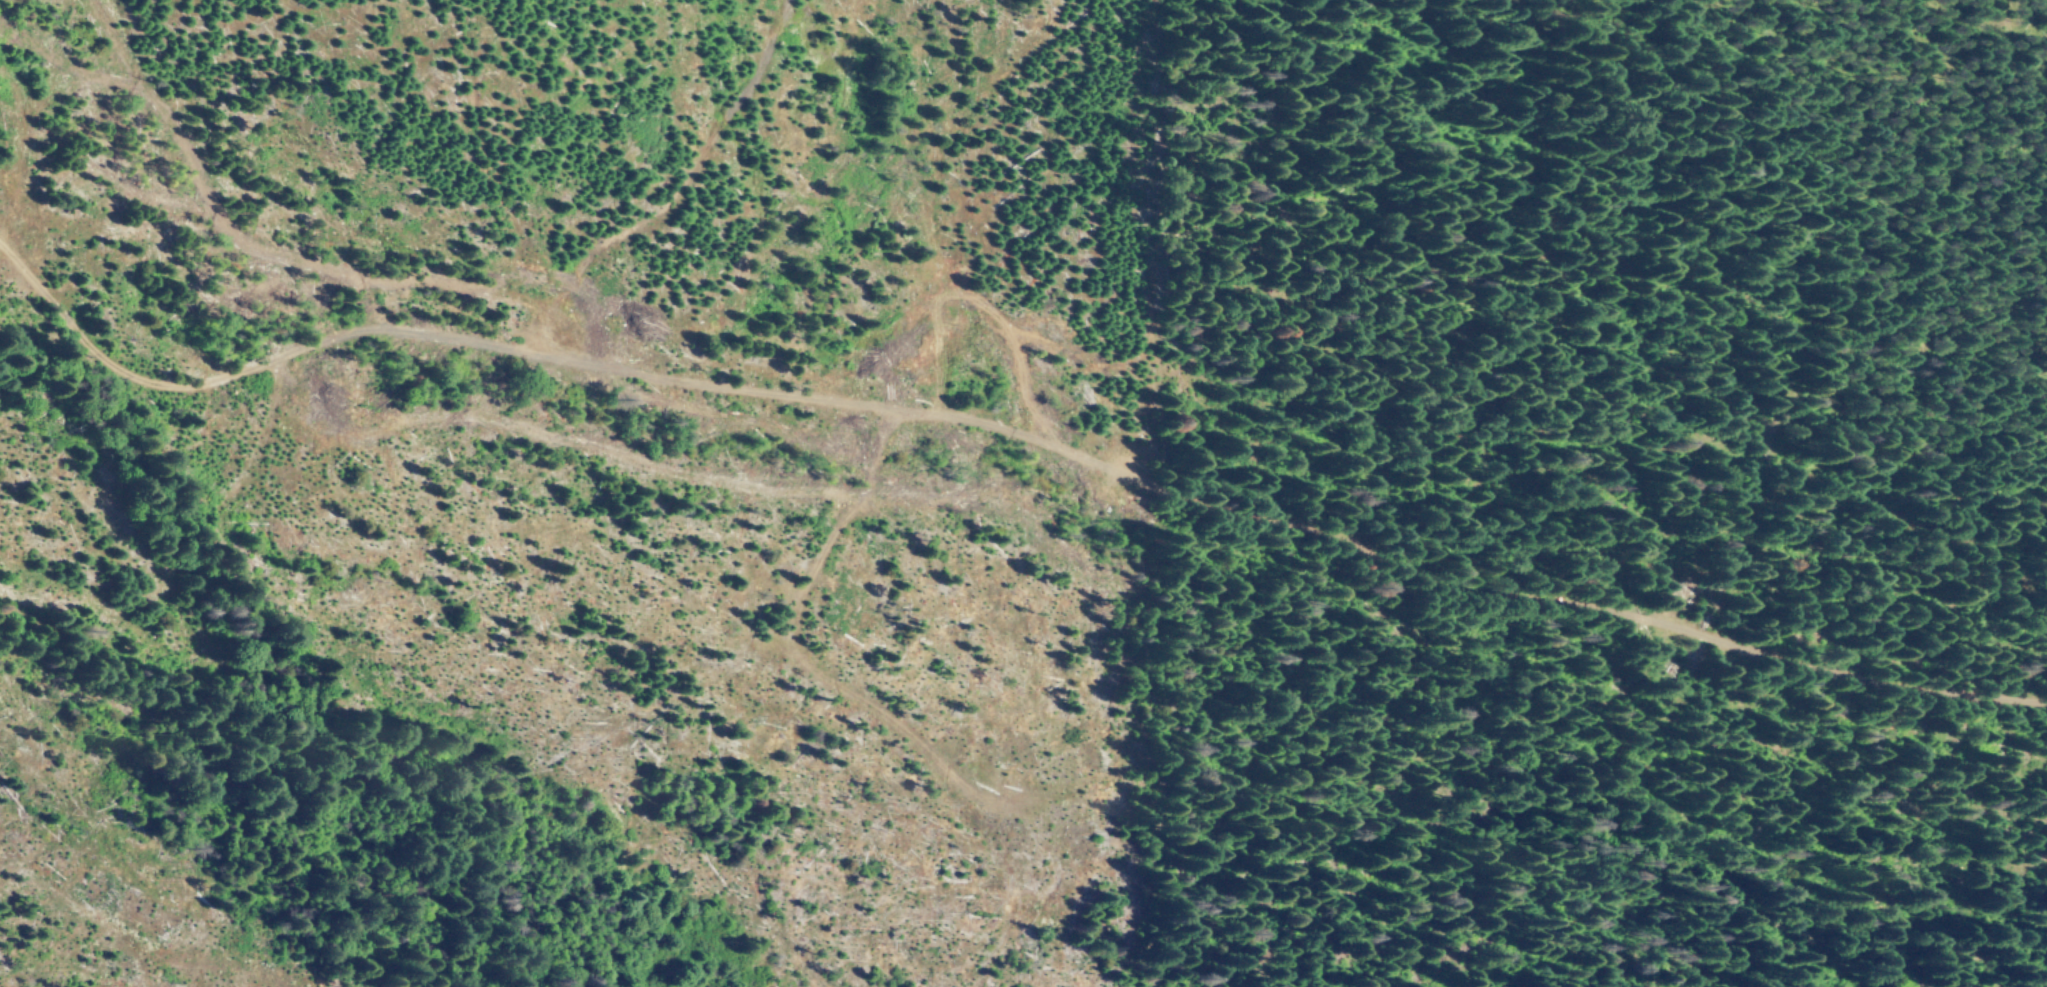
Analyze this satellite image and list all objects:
road: (1619, 623)

